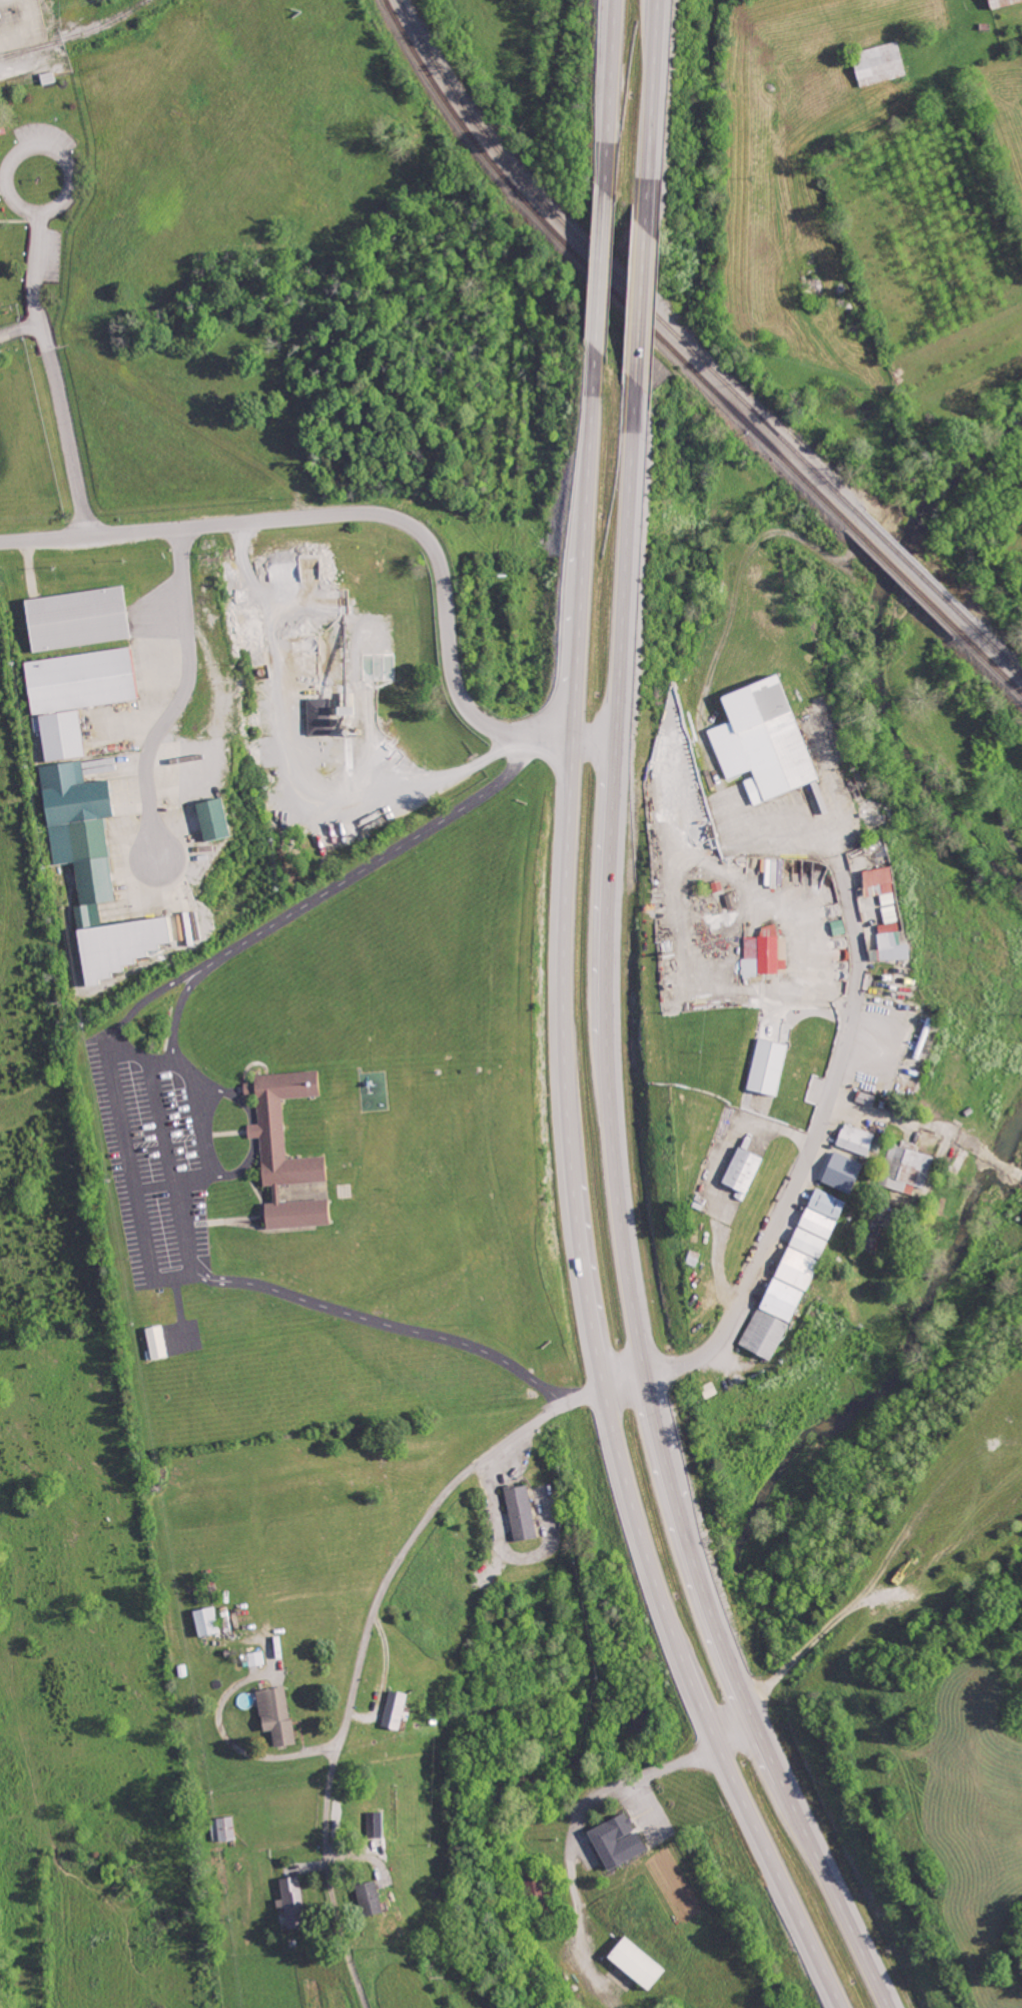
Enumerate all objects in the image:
building: (1003, 2)
railway: (76, 34)
railway: (29, 48)
building: (880, 63)
road: (612, 96)
road: (654, 114)
road: (16, 197)
road: (38, 267)
road: (603, 268)
road: (643, 302)
railway: (693, 349)
railway: (685, 358)
road: (61, 408)
road: (381, 518)
building: (78, 618)
building: (75, 694)
road: (184, 697)
building: (320, 715)
building: (764, 740)
building: (214, 819)
building: (771, 871)
building: (94, 872)
building: (730, 899)
building: (887, 914)
road: (277, 937)
building: (765, 953)
building: (767, 1067)
building: (855, 1139)
building: (273, 1146)
building: (907, 1166)
building: (742, 1171)
building: (843, 1172)
road: (576, 1200)
building: (828, 1204)
road: (621, 1216)
building: (799, 1265)
building: (764, 1334)
building: (156, 1342)
road: (562, 1405)
building: (521, 1511)
building: (206, 1620)
building: (394, 1708)
building: (276, 1714)
building: (375, 1823)
building: (617, 1840)
building: (370, 1897)
building: (293, 1901)
building: (637, 1962)

